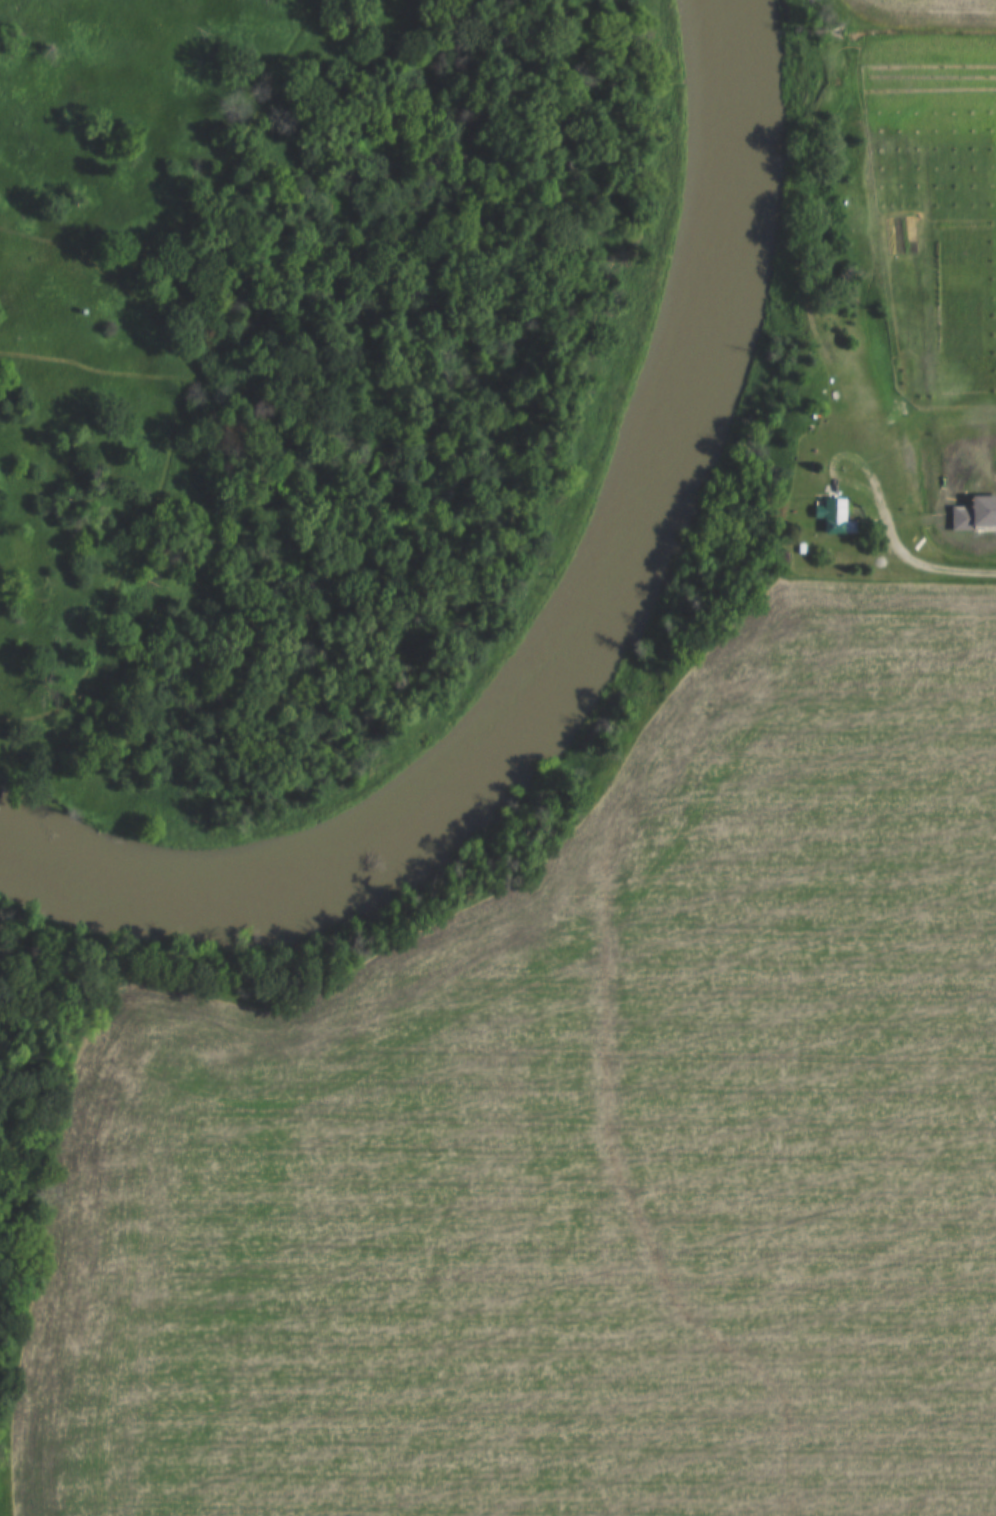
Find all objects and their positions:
building: (832, 517)
road: (916, 564)
river: (576, 646)

